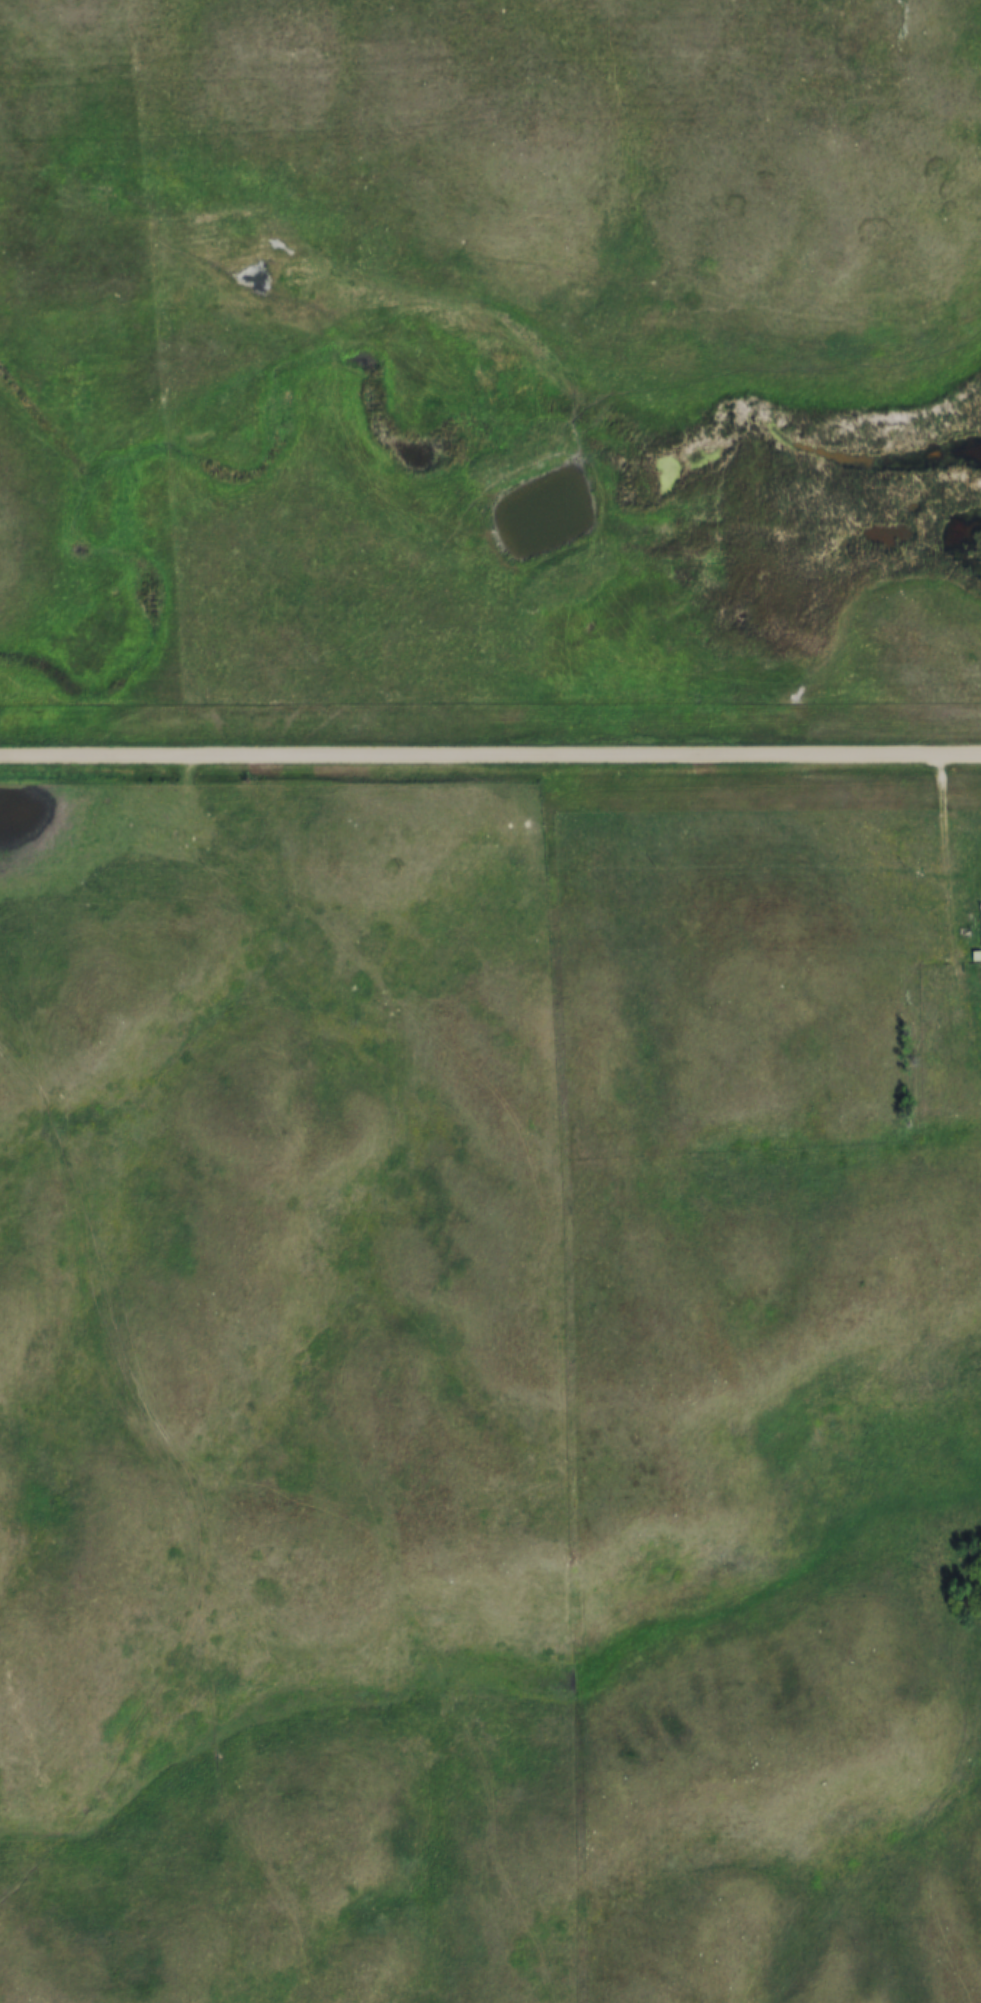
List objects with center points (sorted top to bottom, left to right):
road: (490, 758)
road: (946, 844)

